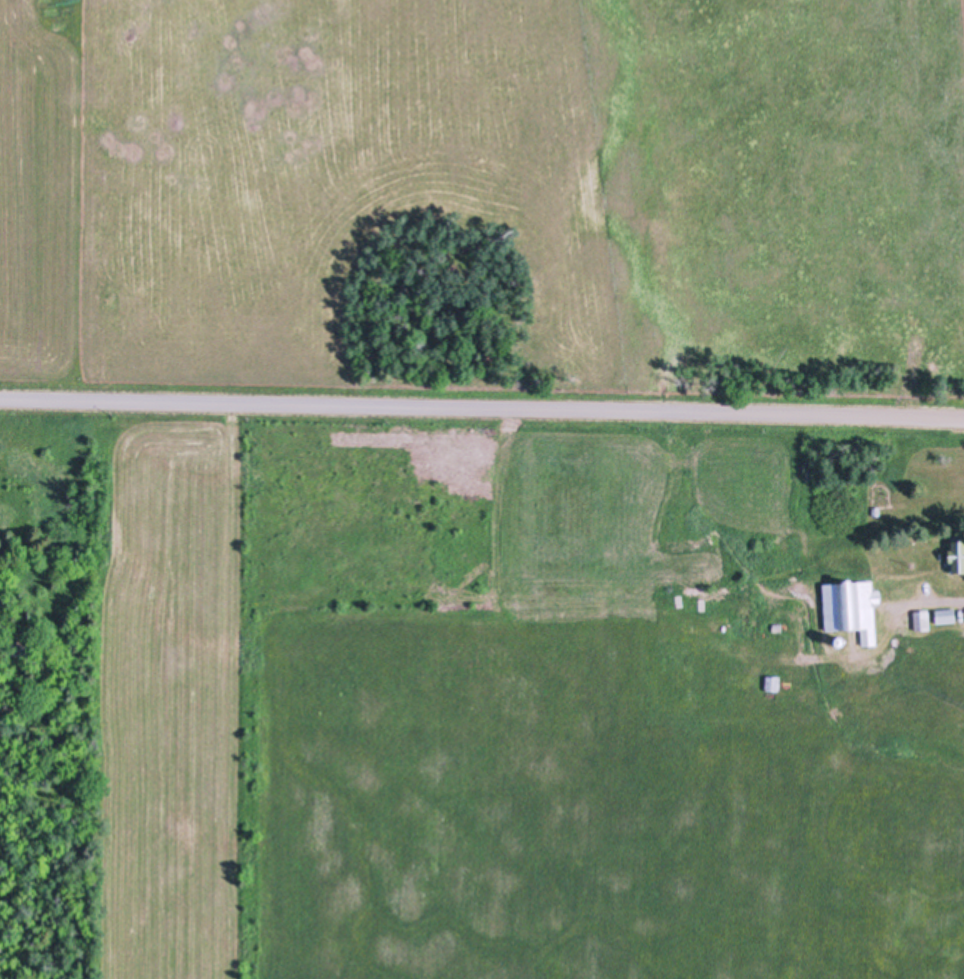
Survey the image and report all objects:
road: (482, 409)
building: (956, 555)
building: (850, 608)
building: (944, 615)
building: (920, 620)
building: (771, 683)

